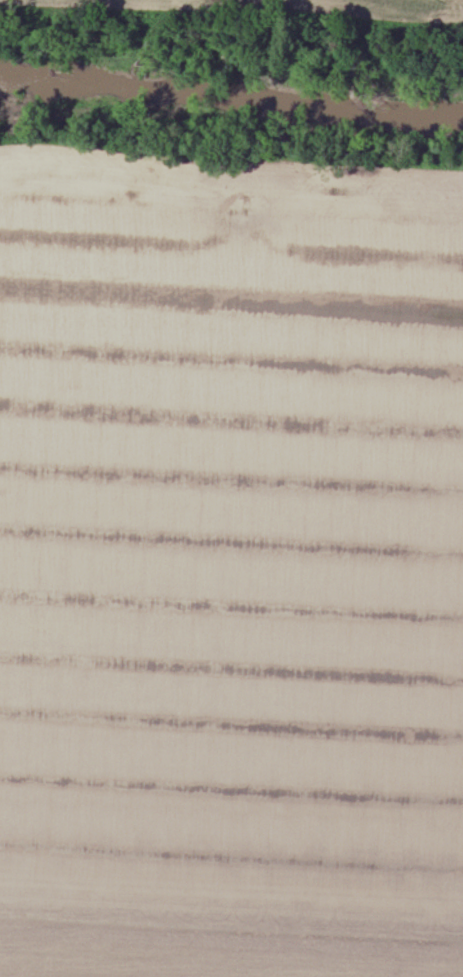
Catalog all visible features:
crop: (280, 11)
river: (231, 99)
crop: (230, 565)

